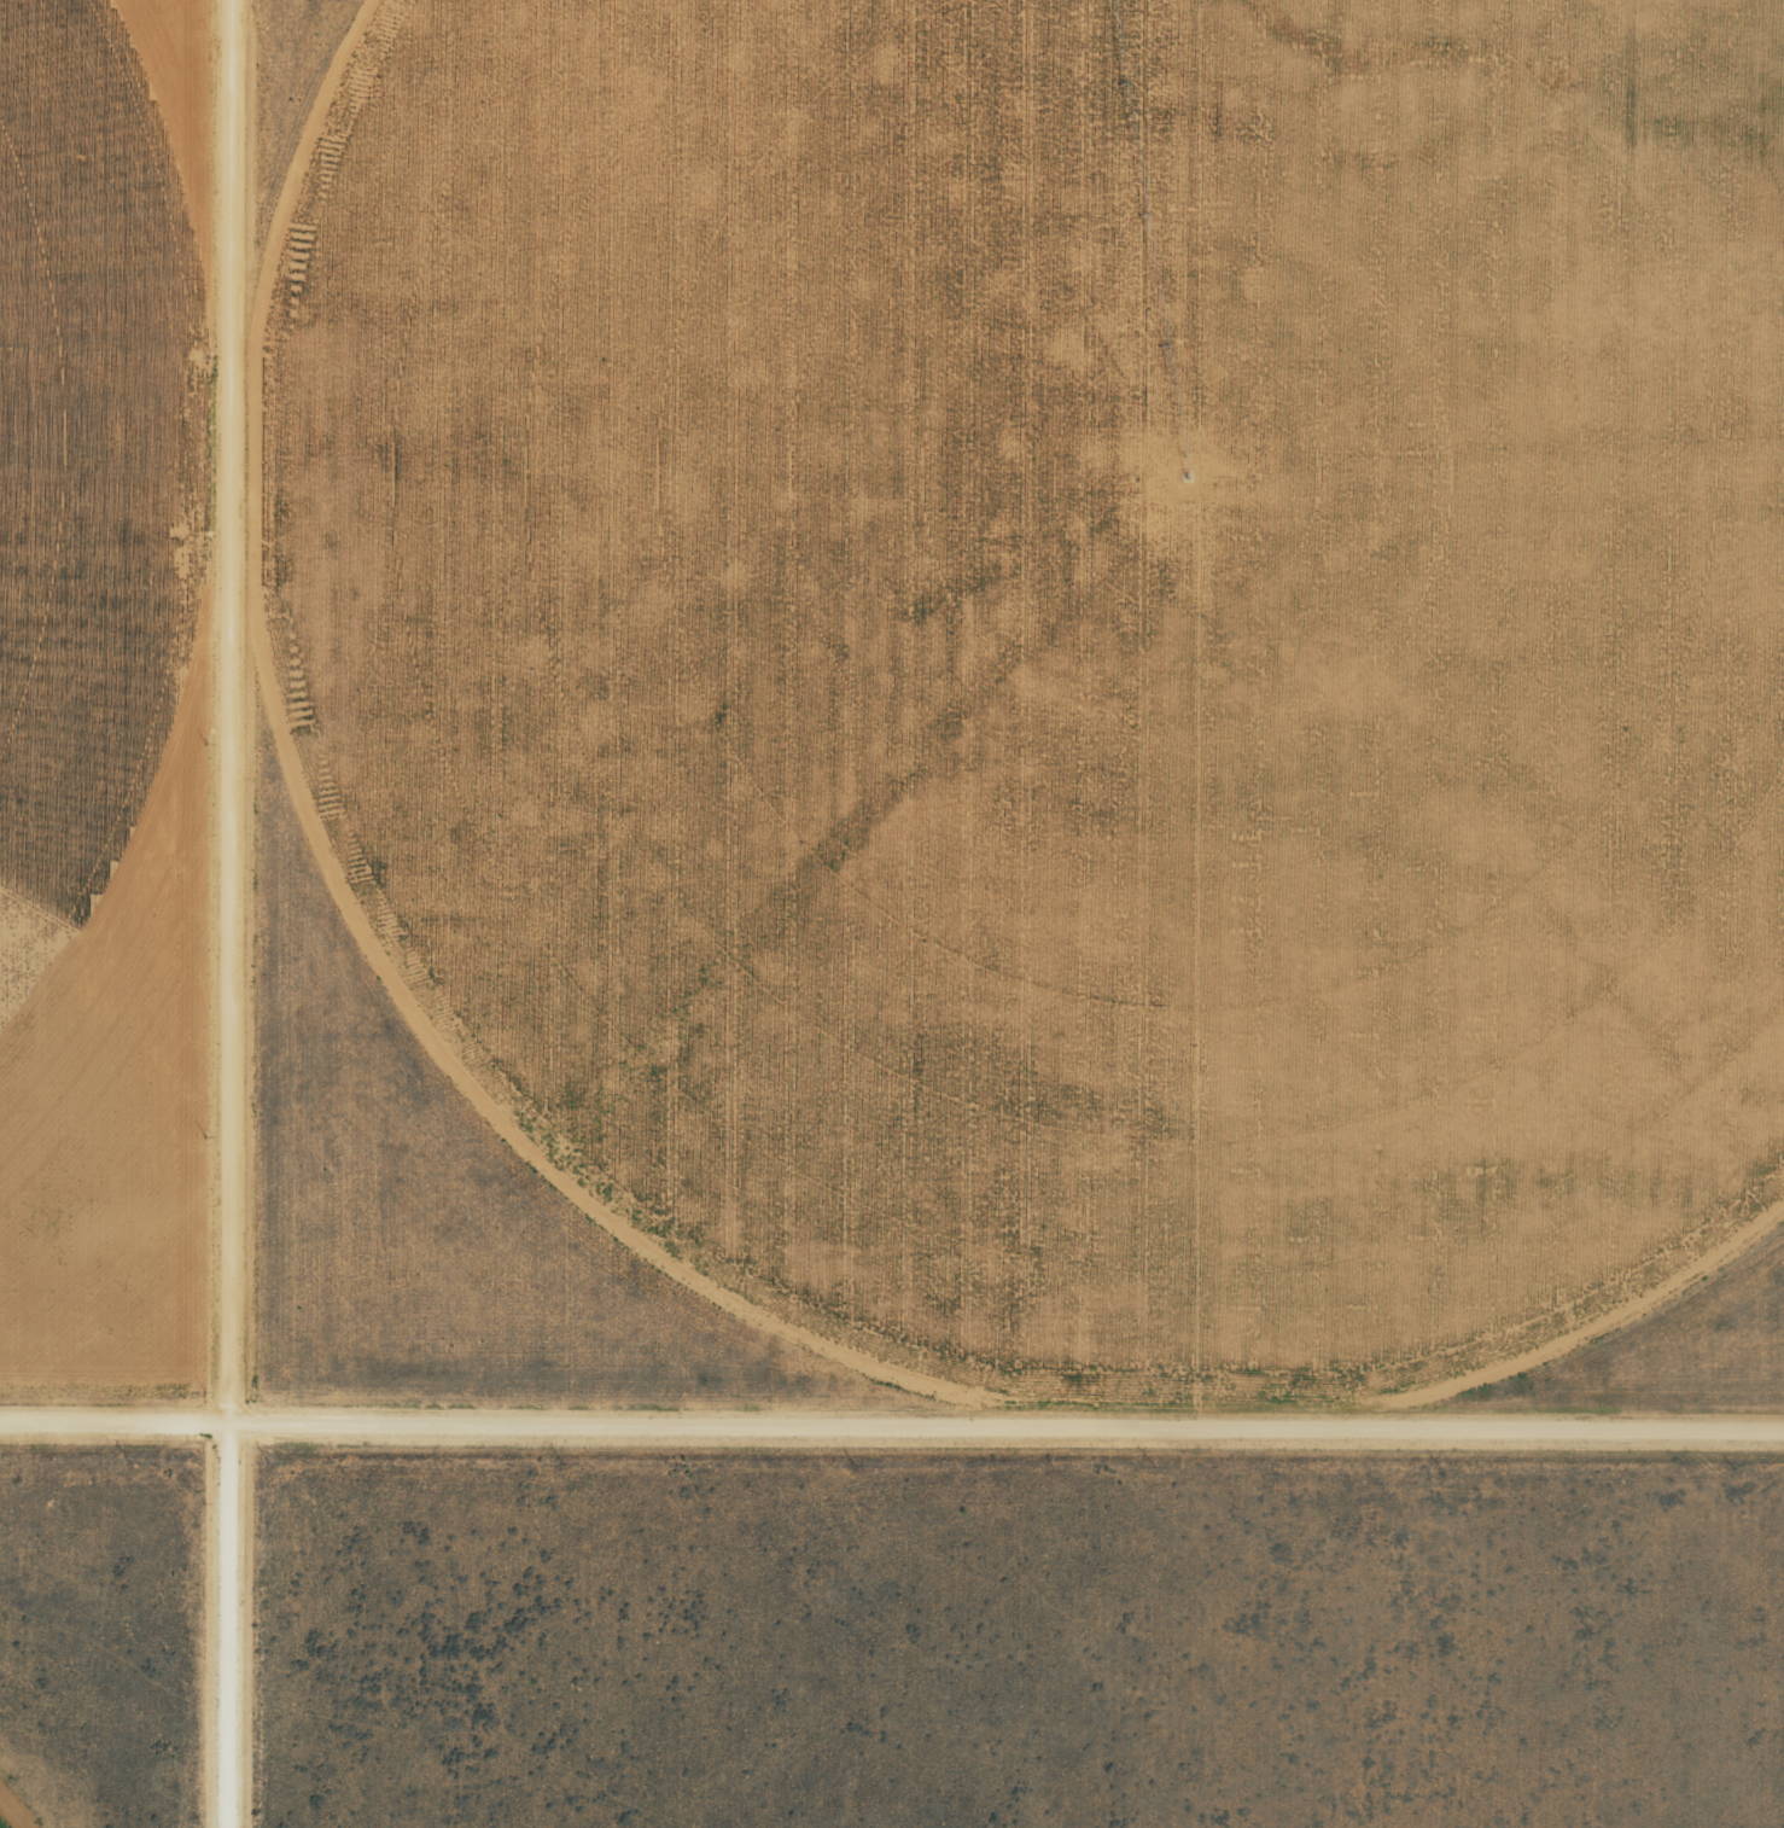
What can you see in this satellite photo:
road: (256, 914)
road: (892, 1397)

